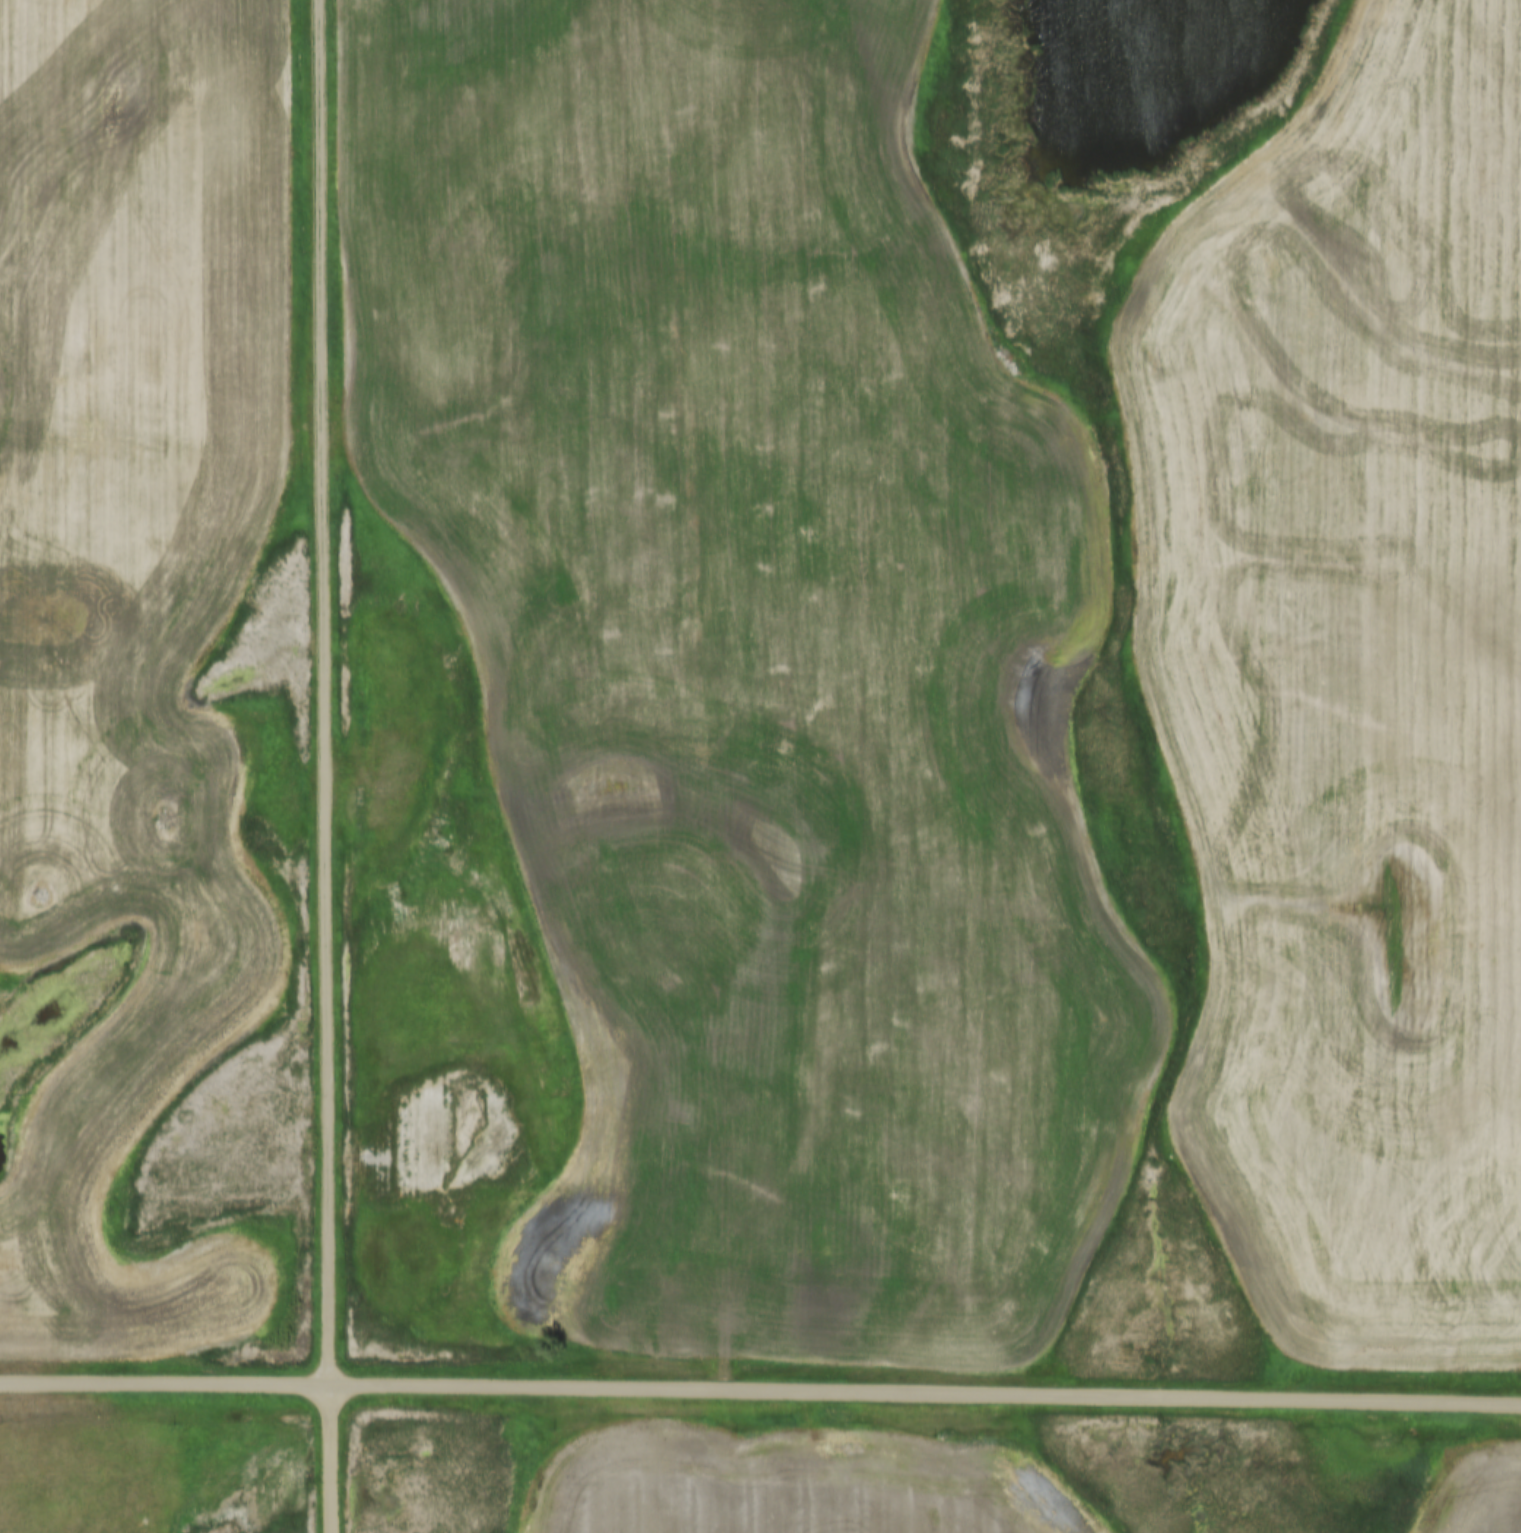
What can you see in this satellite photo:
road: (328, 691)
road: (760, 1391)
road: (334, 1458)

